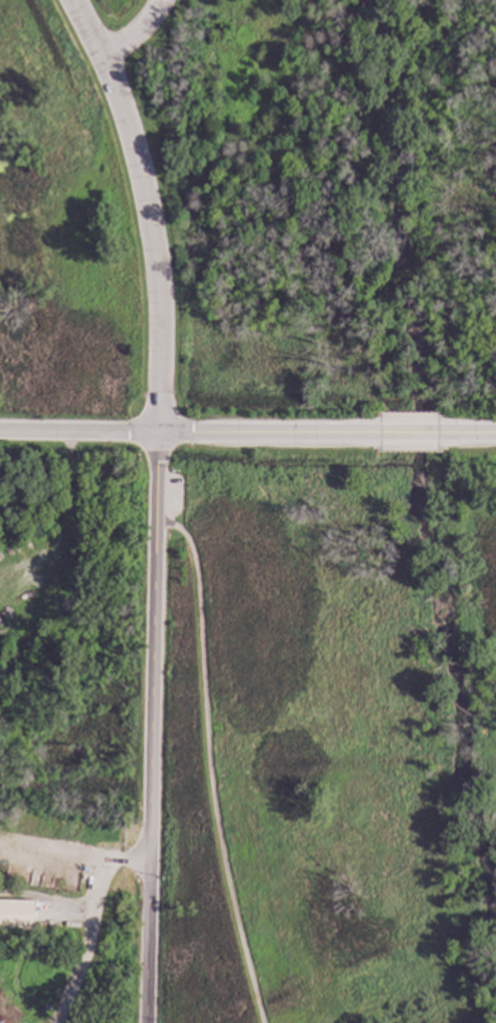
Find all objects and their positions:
road: (135, 32)
road: (115, 99)
park: (340, 201)
park: (74, 206)
road: (157, 362)
road: (184, 433)
road: (403, 435)
road: (466, 435)
river: (406, 509)
park: (69, 618)
park: (328, 736)
road: (207, 764)
road: (151, 772)
road: (57, 852)
road: (130, 863)
building: (84, 872)
road: (71, 911)
building: (16, 915)
road: (88, 944)

